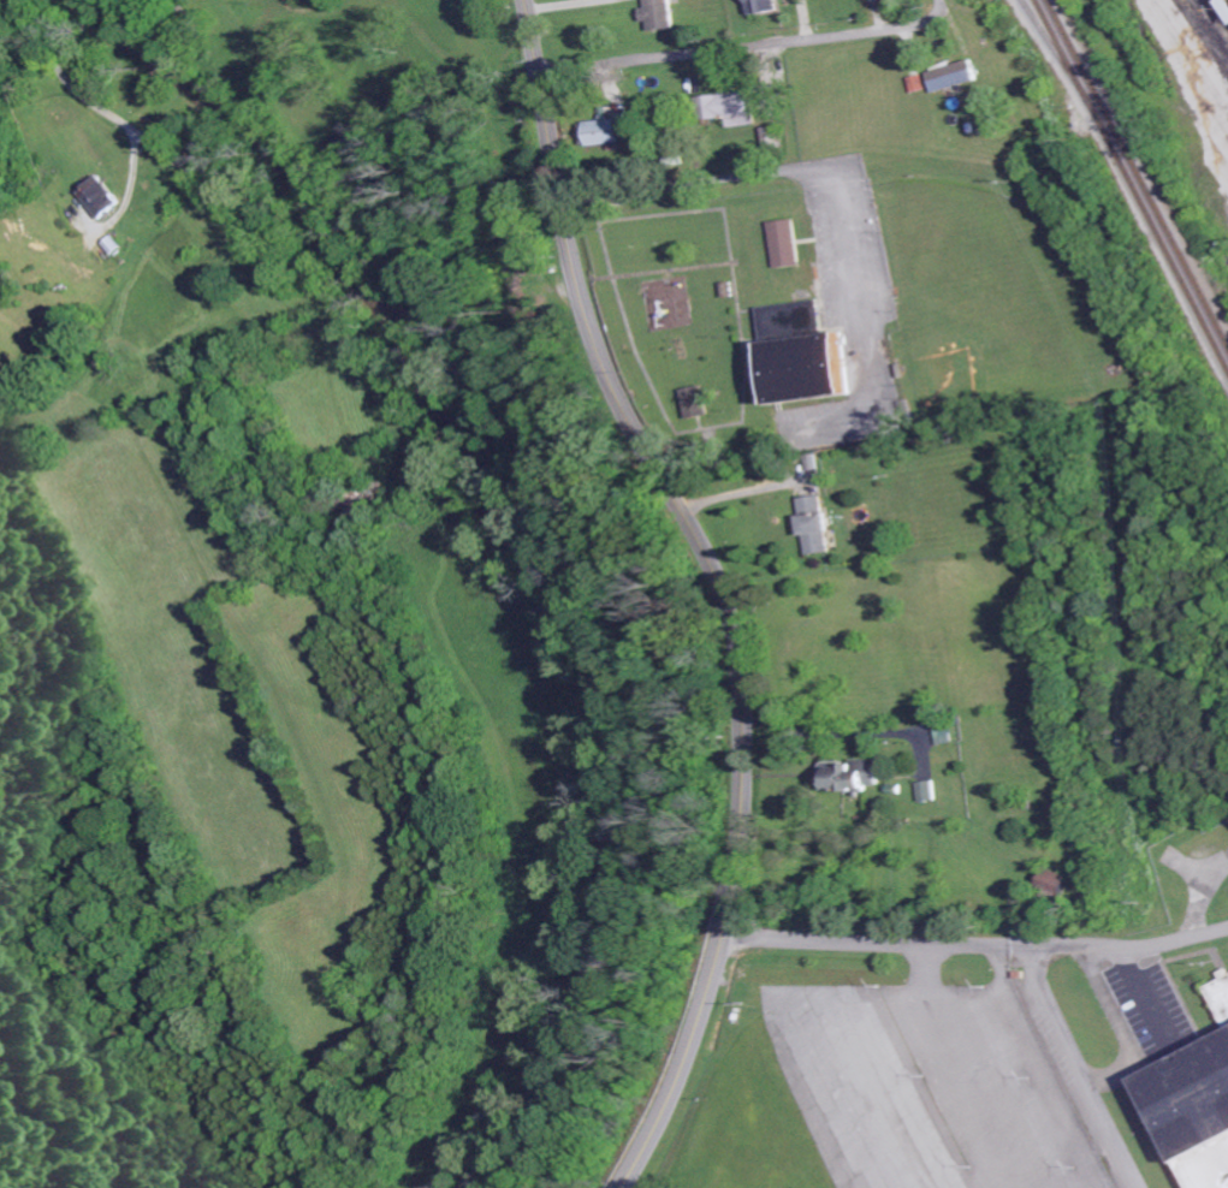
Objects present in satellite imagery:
building: (883, 0)
building: (761, 6)
building: (657, 14)
railway: (1214, 20)
railway: (1204, 31)
road: (746, 48)
railway: (1061, 58)
building: (950, 76)
road: (71, 78)
building: (915, 83)
building: (729, 108)
building: (605, 131)
railway: (1138, 172)
road: (708, 178)
railway: (1132, 183)
building: (102, 196)
building: (785, 244)
park: (990, 299)
park: (842, 304)
parking lot: (849, 319)
building: (799, 352)
building: (692, 400)
road: (665, 412)
building: (814, 524)
road: (718, 588)
building: (849, 776)
building: (926, 790)
building: (1054, 883)
road: (980, 933)
road: (1087, 1065)
building: (1191, 1101)

